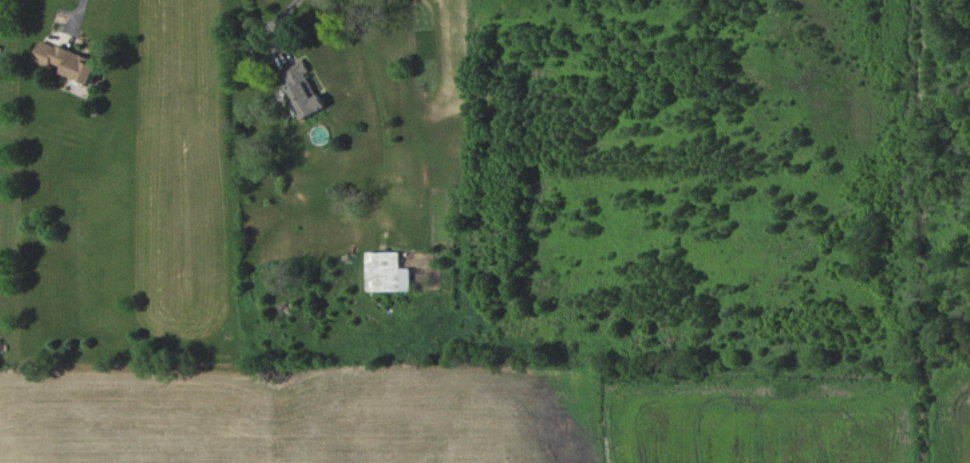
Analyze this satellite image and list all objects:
road: (75, 12)
road: (278, 26)
building: (66, 60)
building: (304, 89)
building: (388, 271)

